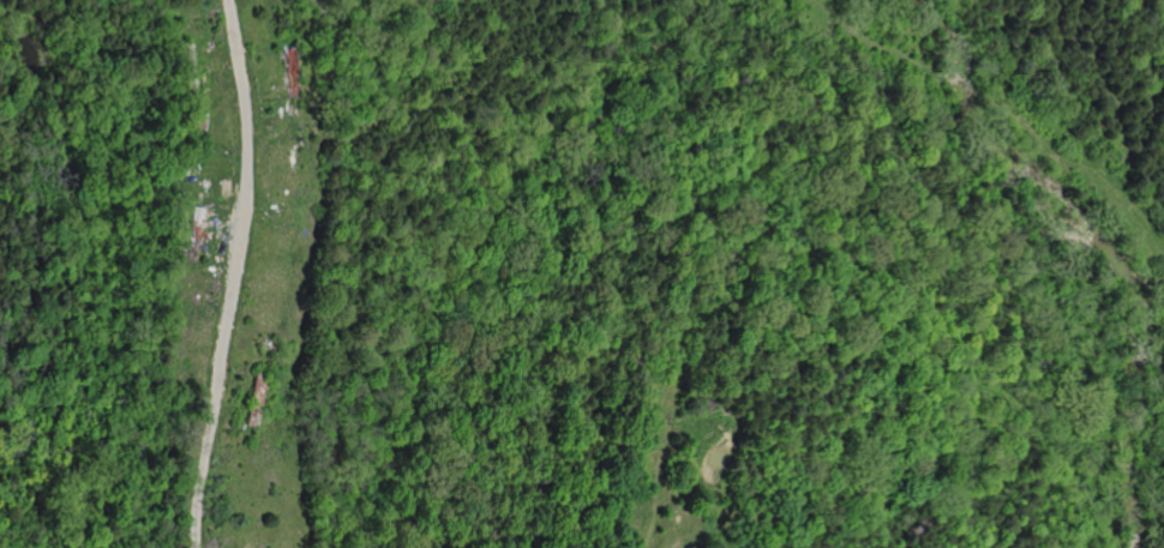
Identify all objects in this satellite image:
building: (182, 25)
building: (190, 64)
building: (288, 71)
building: (197, 126)
building: (223, 187)
building: (193, 233)
road: (230, 273)
building: (257, 399)

